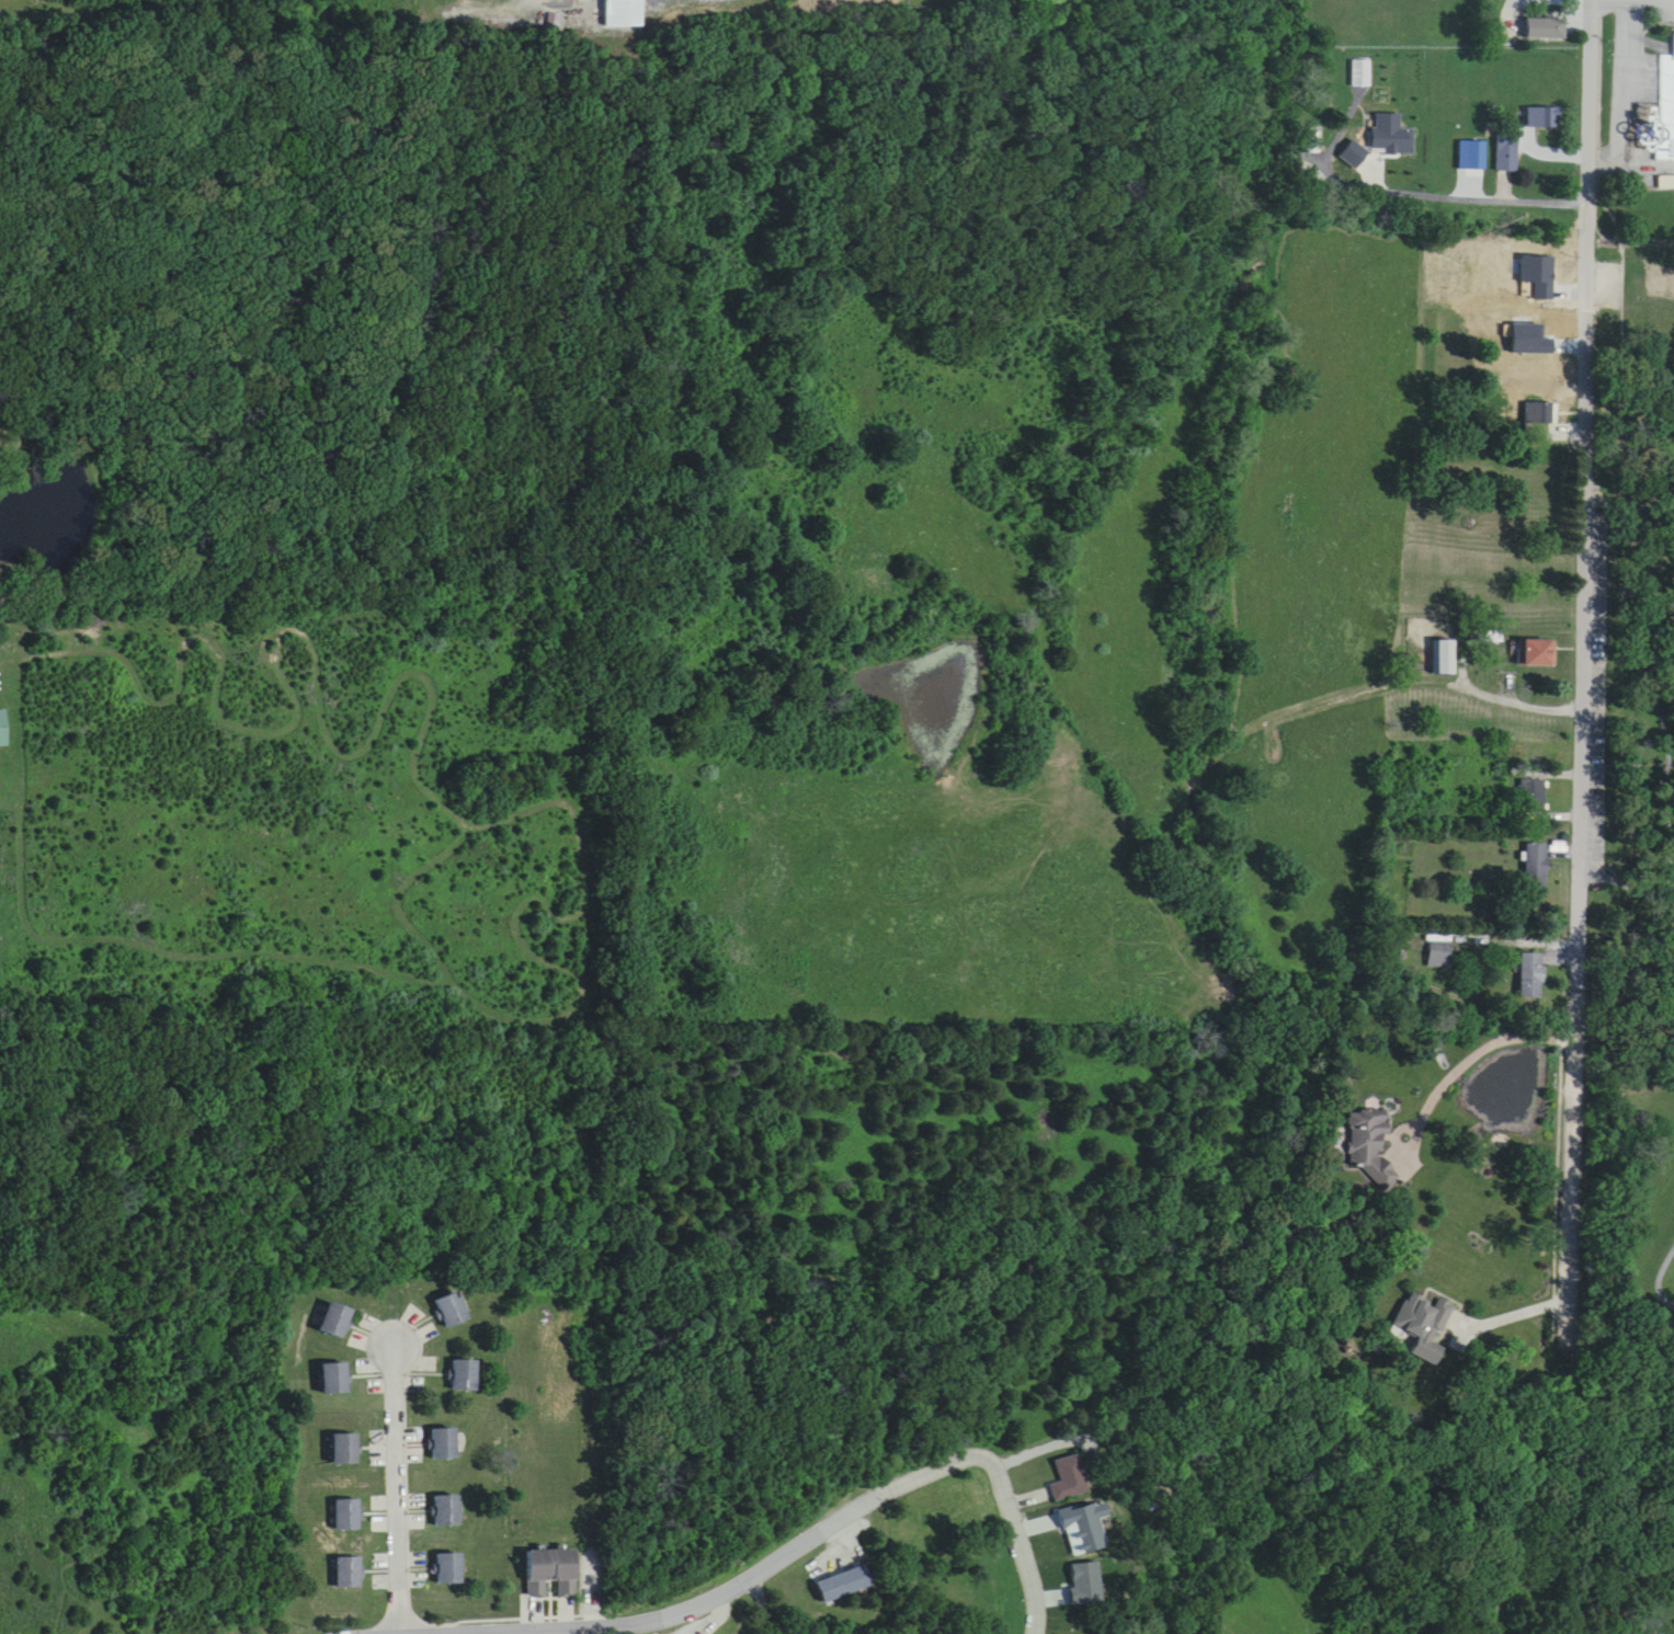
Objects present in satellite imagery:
building: (623, 13)
building: (1547, 28)
parking lot: (1638, 60)
building: (1363, 72)
building: (1666, 107)
water park: (1659, 108)
building: (1547, 117)
building: (1391, 139)
building: (1314, 142)
building: (1508, 150)
park: (1631, 167)
road: (1453, 181)
building: (1666, 182)
park: (1666, 268)
building: (1528, 289)
building: (1539, 415)
road: (1640, 612)
building: (1536, 654)
building: (1444, 658)
road: (1586, 666)
road: (1428, 673)
building: (2, 730)
road: (1629, 751)
building: (1533, 800)
building: (1536, 867)
road: (1627, 873)
road: (1499, 928)
building: (1442, 955)
building: (1531, 975)
park: (1624, 980)
road: (1482, 1049)
building: (1369, 1145)
road: (1661, 1284)
road: (1510, 1303)
building: (451, 1311)
building: (1420, 1321)
building: (335, 1322)
building: (465, 1376)
building: (335, 1380)
building: (444, 1444)
building: (345, 1449)
building: (1069, 1479)
road: (396, 1484)
road: (876, 1497)
building: (448, 1511)
building: (348, 1515)
building: (451, 1569)
building: (349, 1573)
building: (551, 1573)
building: (845, 1582)
road: (545, 1629)
road: (463, 1632)

